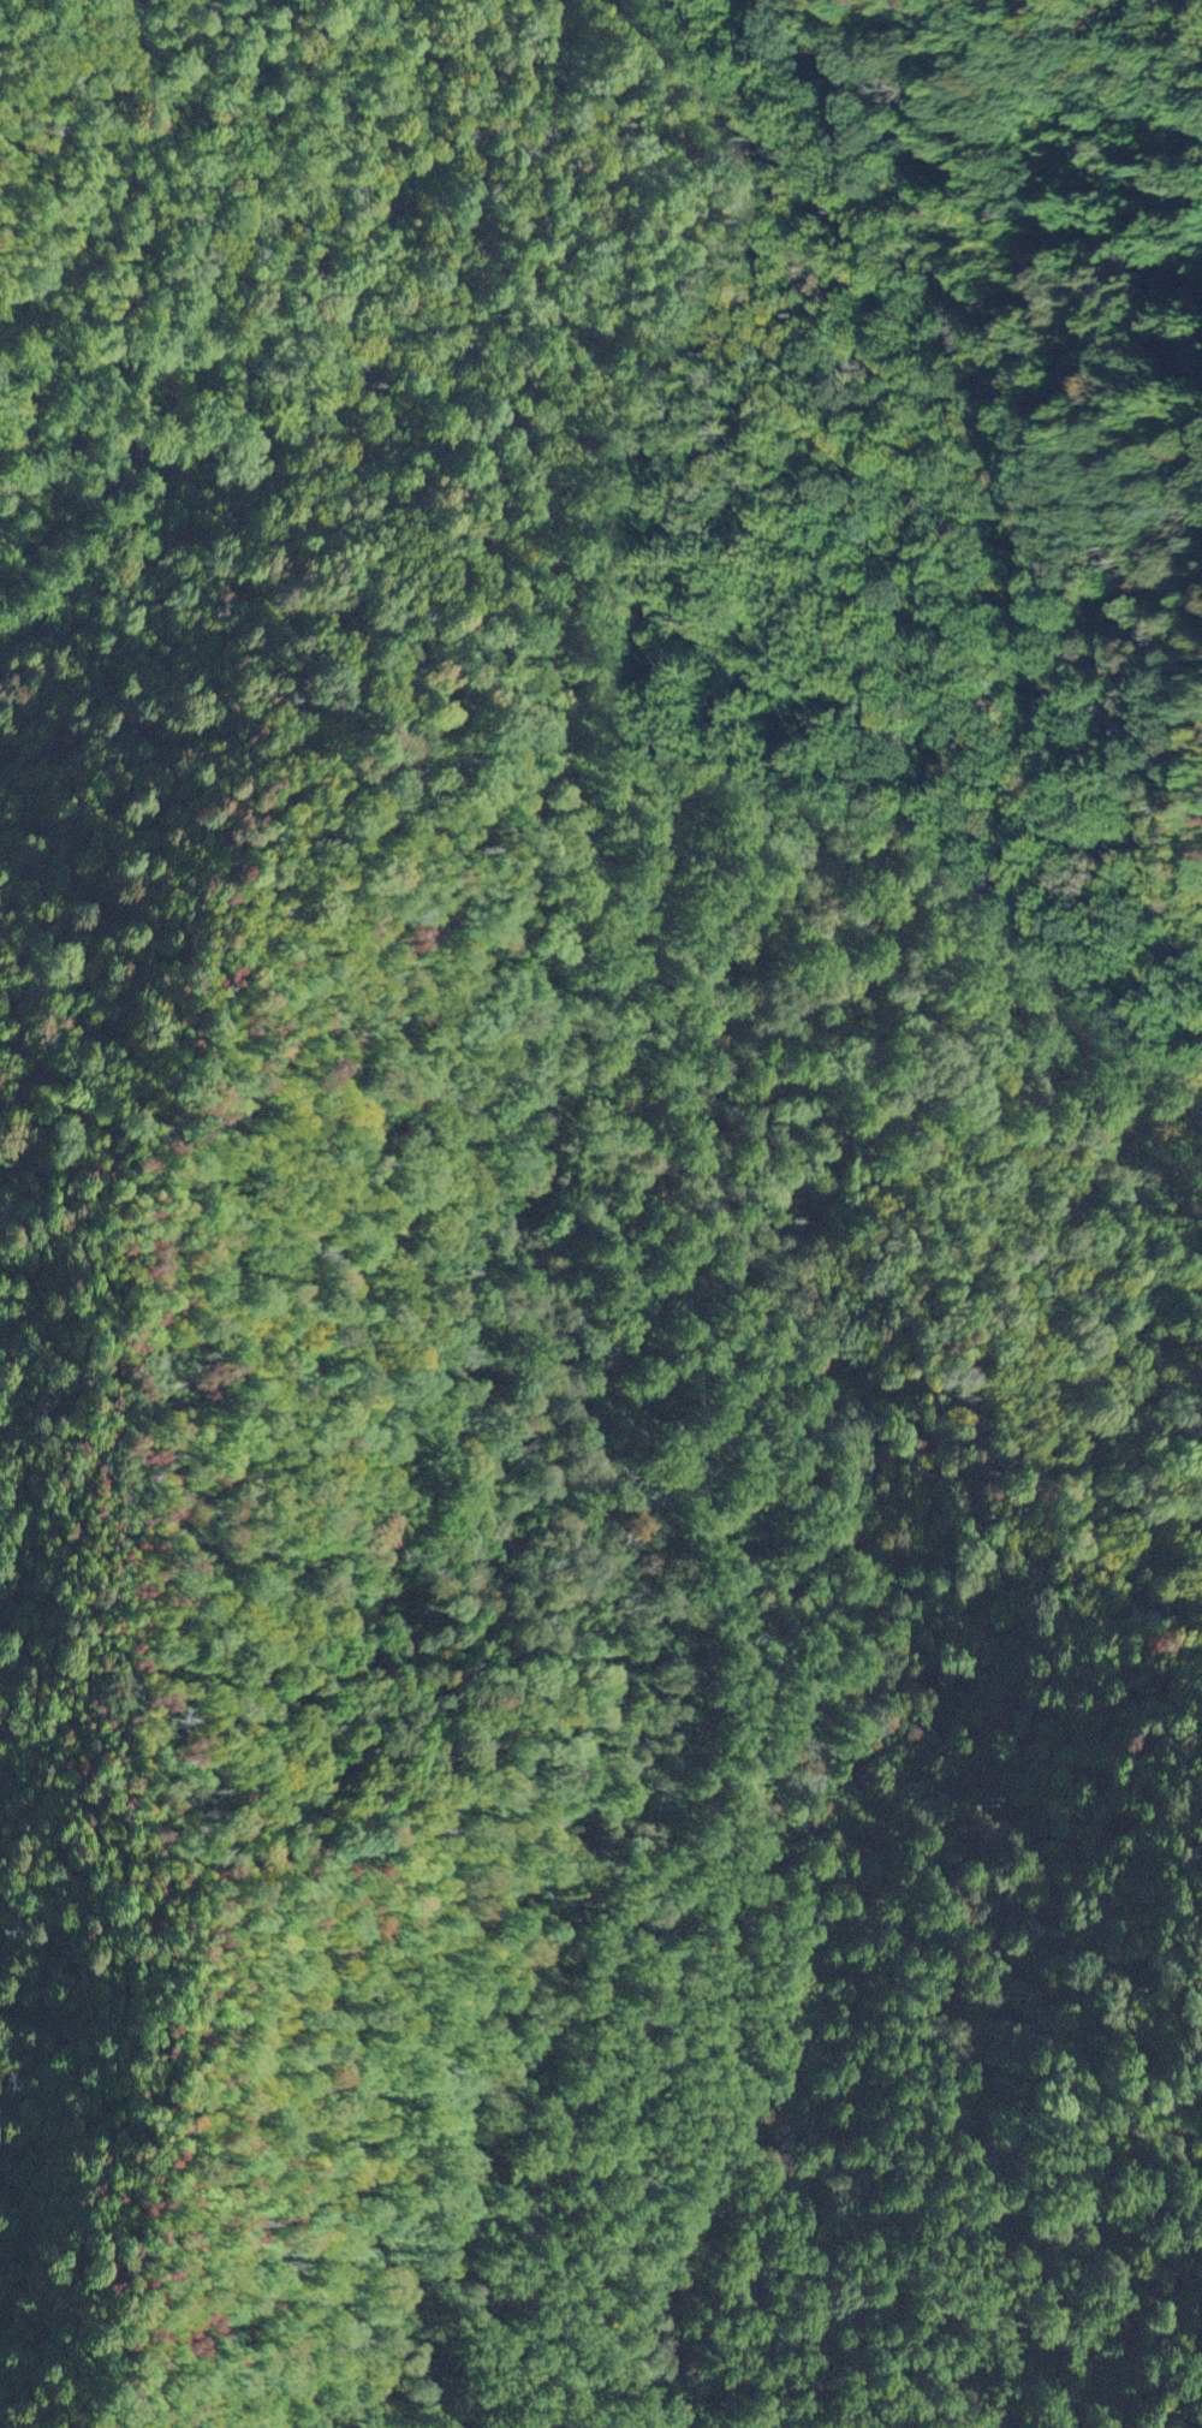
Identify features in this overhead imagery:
river: (581, 6)
river: (593, 6)
river: (763, 224)
road: (177, 274)
road: (1001, 445)

